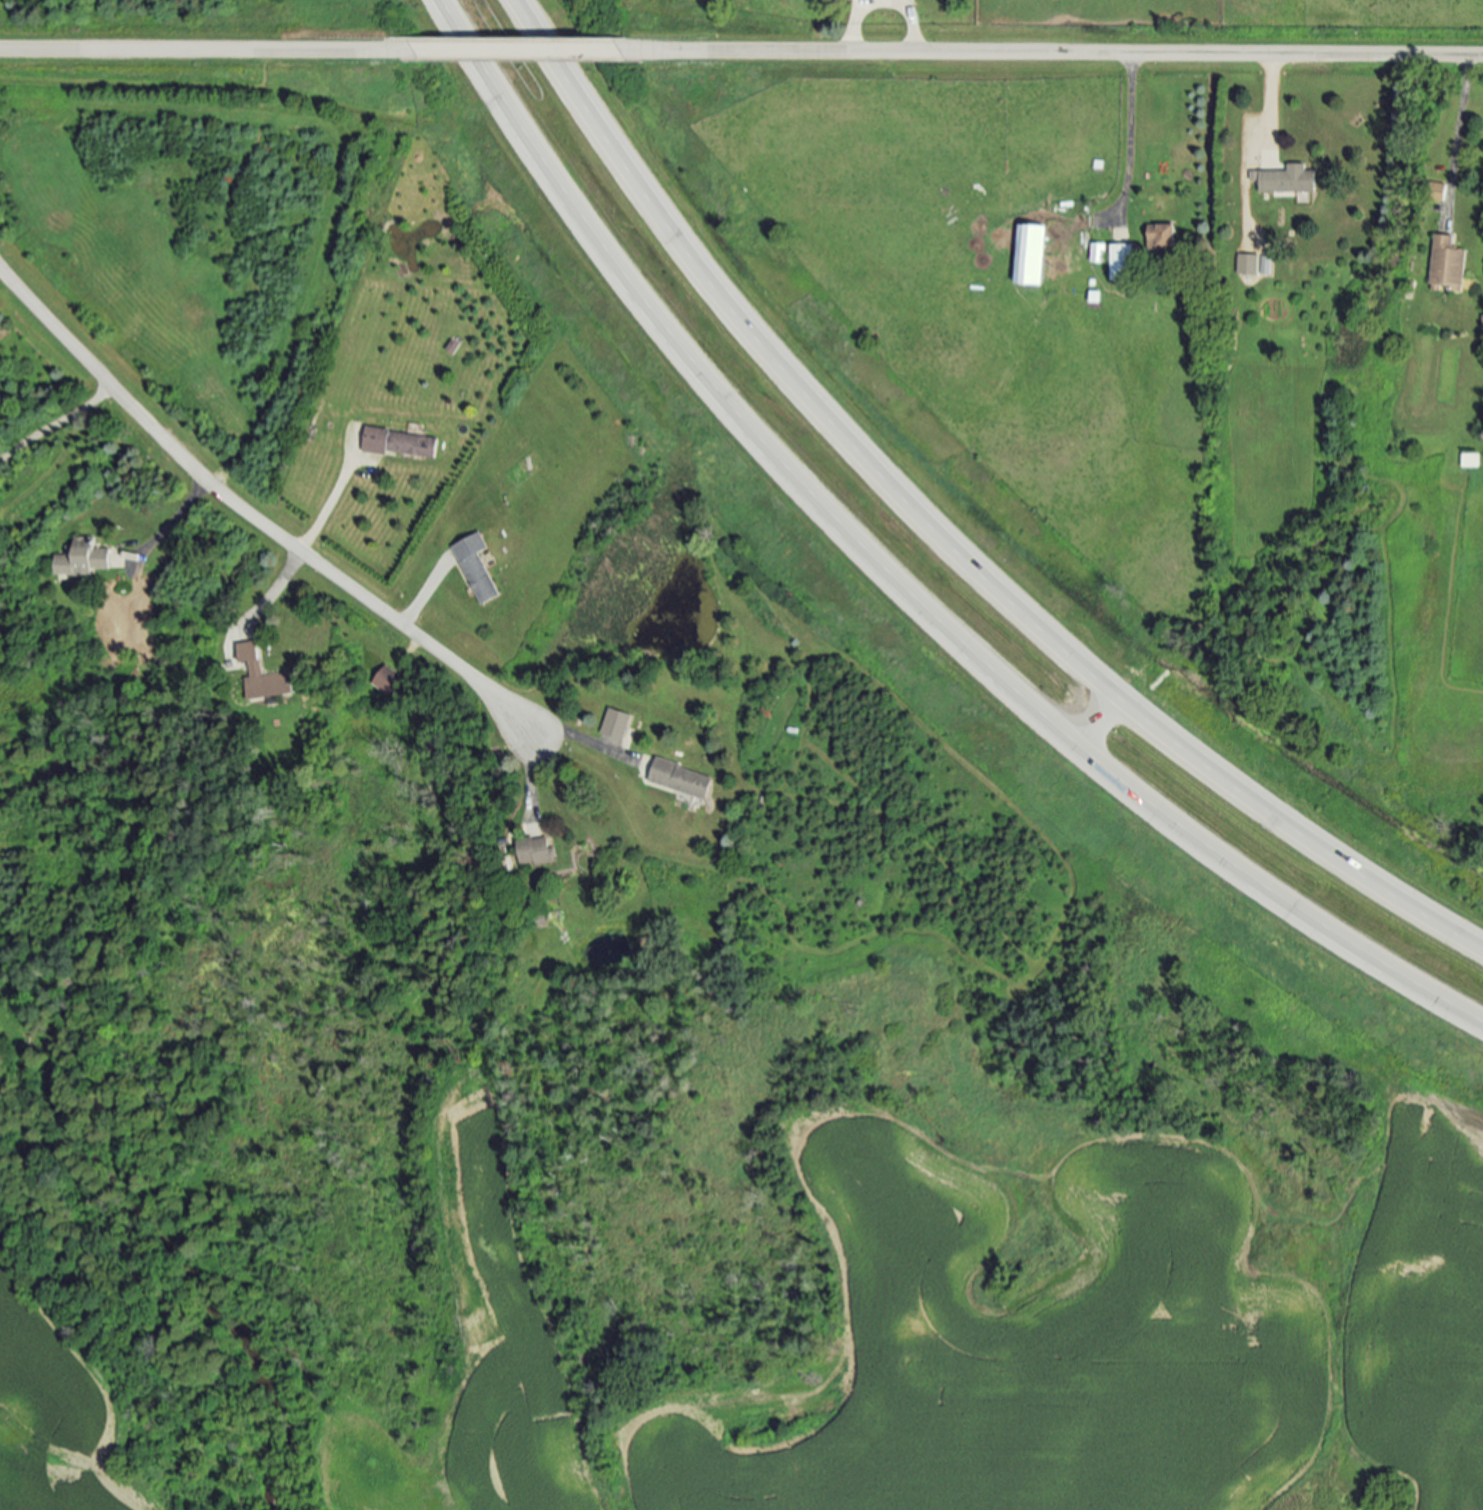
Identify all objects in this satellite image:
road: (883, 1)
road: (185, 51)
road: (510, 52)
road: (1065, 56)
road: (1271, 97)
road: (1128, 133)
road: (1458, 134)
building: (1287, 181)
building: (1162, 237)
building: (1099, 252)
building: (1029, 256)
building: (1121, 263)
building: (1266, 264)
building: (1248, 266)
building: (1447, 266)
road: (55, 424)
building: (401, 443)
building: (1472, 460)
road: (249, 517)
road: (168, 523)
road: (946, 530)
road: (310, 531)
building: (82, 558)
building: (479, 567)
road: (896, 575)
road: (426, 600)
building: (264, 675)
building: (388, 680)
building: (618, 724)
road: (535, 730)
building: (682, 779)
building: (537, 851)

